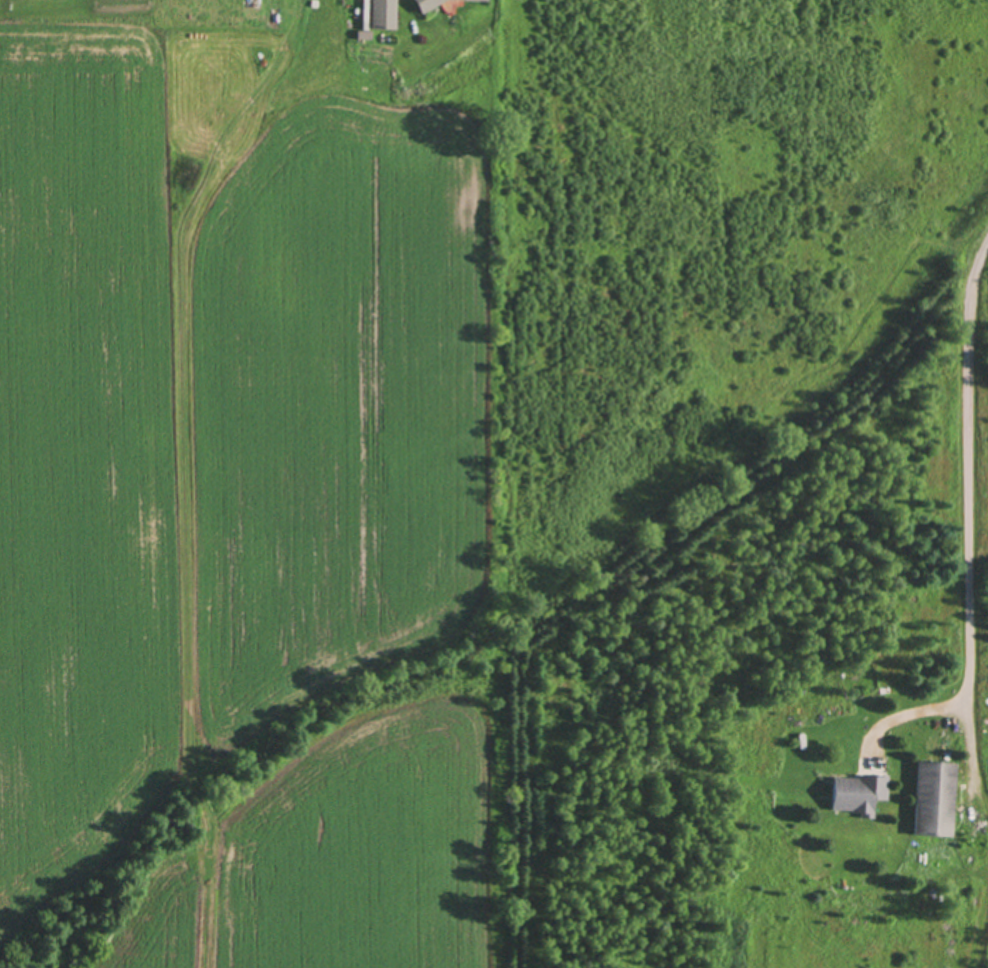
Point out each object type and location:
building: (472, 0)
building: (425, 5)
building: (364, 14)
building: (381, 14)
building: (363, 36)
road: (968, 480)
building: (857, 791)
building: (933, 798)

